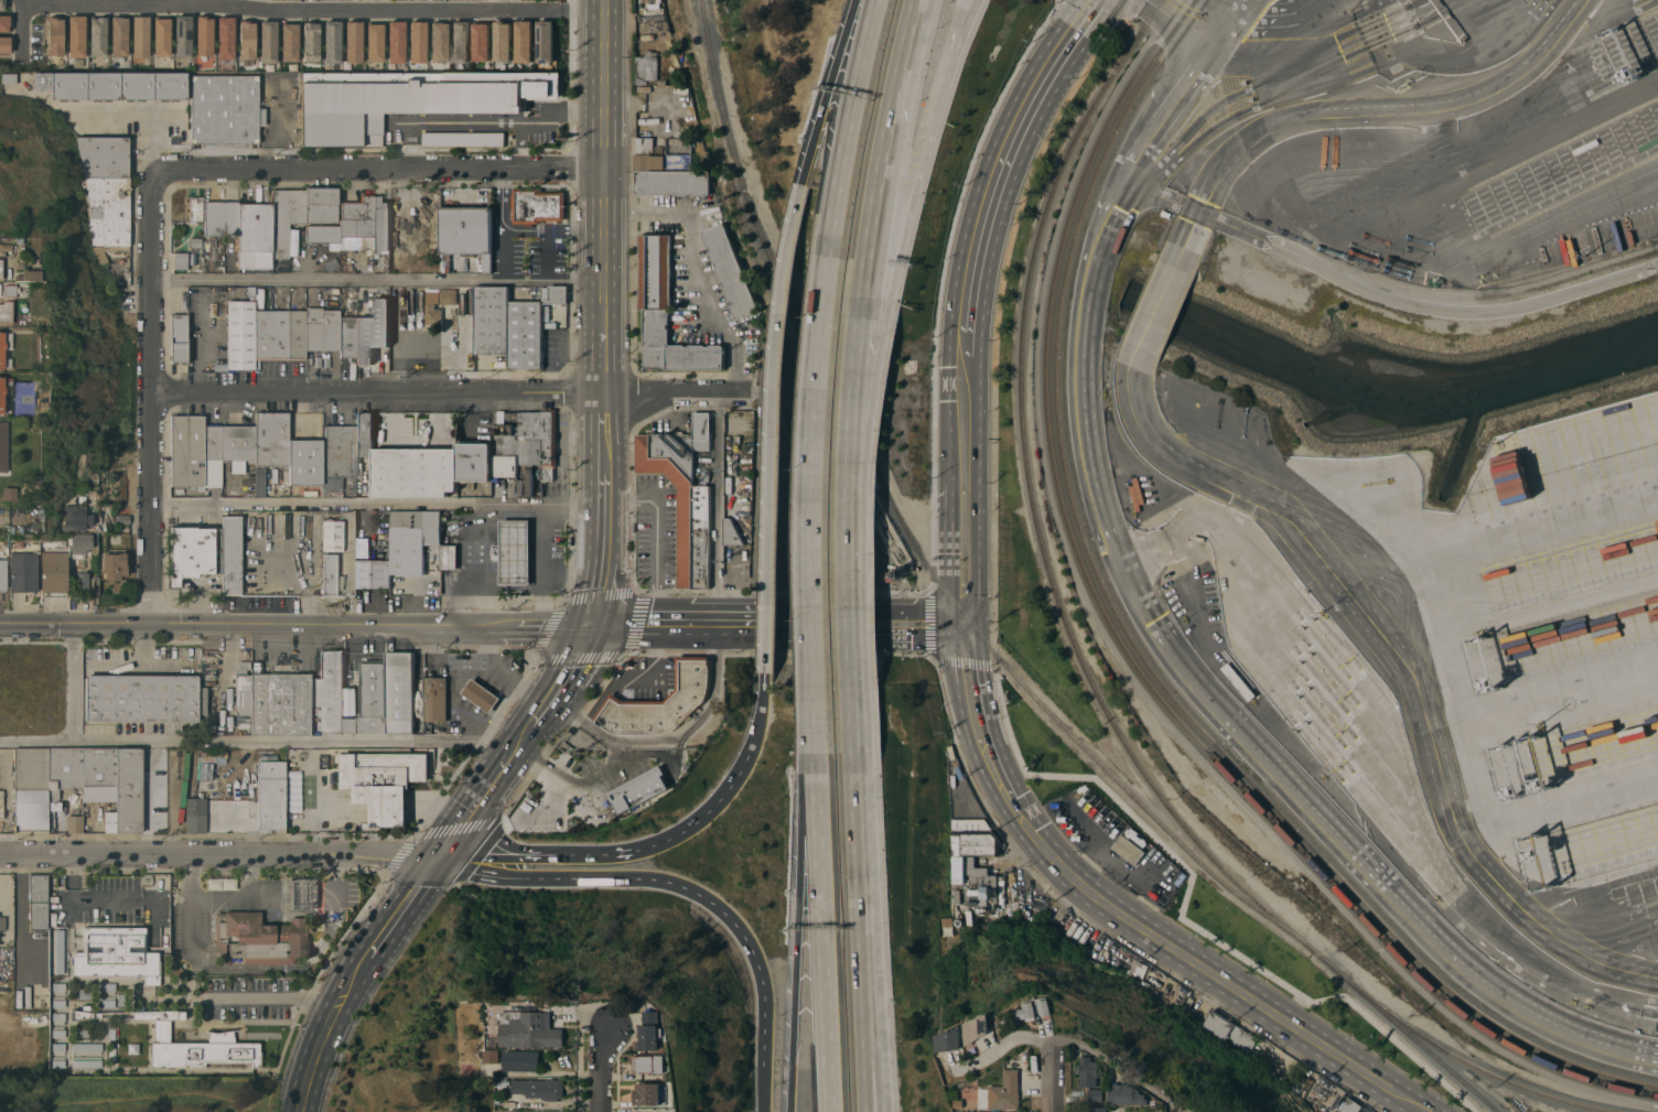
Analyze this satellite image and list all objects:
road: (132, 3)
building: (2, 4)
road: (257, 4)
road: (378, 4)
road: (503, 4)
road: (1131, 9)
road: (312, 10)
road: (1229, 12)
road: (1195, 13)
road: (1267, 15)
road: (961, 19)
building: (4, 23)
road: (21, 24)
building: (55, 35)
building: (77, 36)
building: (119, 36)
building: (140, 36)
building: (161, 36)
building: (204, 36)
building: (98, 37)
building: (183, 37)
building: (225, 37)
road: (1298, 37)
building: (247, 40)
building: (331, 41)
building: (417, 41)
building: (438, 41)
building: (460, 41)
building: (502, 41)
building: (268, 42)
building: (311, 42)
building: (353, 42)
building: (374, 42)
building: (395, 42)
building: (481, 42)
building: (523, 42)
building: (545, 42)
building: (290, 43)
building: (6, 44)
building: (650, 69)
building: (9, 77)
road: (1284, 77)
road: (1036, 83)
building: (112, 86)
road: (826, 91)
building: (407, 99)
road: (1171, 101)
building: (225, 109)
road: (1359, 111)
road: (108, 112)
road: (1549, 122)
road: (486, 125)
road: (268, 126)
road: (850, 127)
road: (891, 129)
building: (464, 139)
road: (923, 141)
road: (147, 145)
road: (521, 147)
building: (105, 156)
building: (664, 156)
road: (383, 171)
building: (674, 184)
road: (605, 194)
road: (499, 197)
building: (323, 205)
building: (537, 206)
building: (196, 208)
building: (109, 210)
building: (428, 217)
building: (223, 218)
building: (287, 222)
building: (398, 222)
building: (358, 223)
building: (256, 226)
building: (383, 226)
building: (465, 233)
building: (325, 235)
building: (18, 240)
road: (1493, 241)
building: (293, 242)
building: (6, 244)
building: (437, 244)
building: (196, 245)
building: (101, 251)
road: (502, 255)
building: (180, 260)
road: (968, 261)
road: (702, 266)
building: (0, 267)
building: (730, 271)
building: (28, 274)
road: (381, 282)
road: (939, 284)
building: (9, 290)
building: (445, 295)
road: (1382, 296)
building: (6, 312)
building: (666, 312)
building: (433, 314)
road: (1152, 314)
building: (493, 321)
building: (531, 327)
building: (323, 330)
building: (374, 332)
building: (281, 334)
building: (241, 335)
building: (349, 337)
building: (179, 338)
road: (873, 339)
road: (202, 344)
road: (859, 346)
building: (1, 354)
road: (994, 382)
building: (4, 389)
road: (675, 390)
road: (379, 391)
road: (155, 399)
road: (772, 428)
building: (366, 433)
building: (272, 439)
building: (3, 445)
building: (524, 446)
road: (605, 446)
building: (228, 449)
building: (341, 450)
building: (189, 451)
building: (475, 461)
building: (305, 462)
building: (415, 473)
road: (948, 481)
building: (259, 486)
road: (971, 488)
building: (9, 493)
building: (683, 494)
railway: (1029, 495)
parking lot: (799, 496)
road: (715, 500)
road: (380, 505)
road: (606, 505)
road: (810, 505)
building: (76, 519)
building: (122, 519)
building: (433, 528)
railway: (903, 528)
road: (656, 531)
building: (333, 535)
building: (731, 535)
building: (400, 542)
building: (417, 542)
building: (18, 543)
building: (79, 543)
road: (605, 543)
building: (58, 544)
road: (1501, 544)
building: (514, 551)
building: (196, 552)
building: (232, 554)
building: (449, 557)
road: (477, 564)
building: (114, 565)
road: (541, 565)
building: (2, 571)
building: (23, 571)
building: (54, 571)
building: (330, 573)
building: (374, 573)
road: (573, 576)
building: (82, 582)
building: (95, 584)
road: (850, 593)
road: (601, 602)
road: (685, 612)
road: (734, 612)
road: (851, 613)
traffic signals: (948, 613)
road: (626, 617)
road: (960, 619)
road: (76, 624)
road: (375, 624)
traffic signals: (596, 624)
road: (948, 626)
road: (960, 633)
road: (682, 637)
road: (860, 638)
traffic signals: (949, 639)
road: (486, 640)
railway: (1134, 647)
railway: (1127, 655)
road: (1406, 665)
road: (462, 678)
road: (71, 681)
road: (623, 681)
building: (1238, 682)
traffic signals: (982, 684)
building: (244, 690)
building: (330, 691)
building: (402, 694)
building: (481, 695)
building: (142, 698)
building: (437, 699)
building: (372, 702)
building: (281, 703)
building: (659, 703)
road: (1217, 710)
road: (991, 720)
road: (758, 725)
road: (965, 732)
road: (676, 735)
road: (244, 739)
building: (700, 742)
road: (519, 743)
road: (154, 748)
road: (487, 754)
building: (65, 774)
building: (101, 781)
building: (384, 782)
road: (574, 782)
building: (31, 789)
building: (130, 790)
building: (191, 792)
building: (640, 793)
building: (271, 795)
road: (148, 806)
road: (232, 812)
building: (195, 816)
road: (1133, 817)
building: (75, 823)
road: (60, 824)
railway: (1288, 829)
building: (976, 838)
building: (1128, 850)
road: (859, 851)
road: (601, 853)
road: (217, 856)
traffic signals: (435, 857)
road: (656, 879)
building: (220, 883)
building: (4, 887)
building: (971, 888)
building: (301, 895)
building: (37, 902)
road: (93, 903)
building: (1040, 904)
building: (1014, 905)
building: (1031, 919)
building: (2, 922)
road: (383, 930)
road: (795, 932)
road: (820, 933)
building: (260, 938)
building: (117, 954)
railway: (1332, 968)
road: (1209, 973)
road: (269, 996)
road: (1336, 997)
building: (1045, 1007)
building: (1026, 1012)
building: (995, 1024)
building: (1657, 1026)
building: (528, 1029)
road: (862, 1029)
road: (874, 1029)
building: (977, 1029)
building: (653, 1032)
building: (1227, 1032)
building: (951, 1040)
road: (1073, 1040)
building: (185, 1041)
building: (461, 1041)
building: (86, 1050)
park: (415, 1051)
railway: (1432, 1055)
building: (492, 1057)
road: (312, 1058)
building: (521, 1060)
building: (86, 1064)
building: (649, 1064)
building: (1255, 1064)
building: (469, 1069)
road: (599, 1069)
railway: (1484, 1069)
building: (1087, 1071)
road: (1051, 1076)
road: (761, 1081)
building: (502, 1082)
building: (539, 1088)
building: (1001, 1092)
park: (139, 1094)
building: (647, 1094)
building: (955, 1094)
building: (1095, 1094)
building: (1127, 1094)
building: (960, 1105)
building: (1350, 1105)
building: (1098, 1110)
building: (555, 1111)

